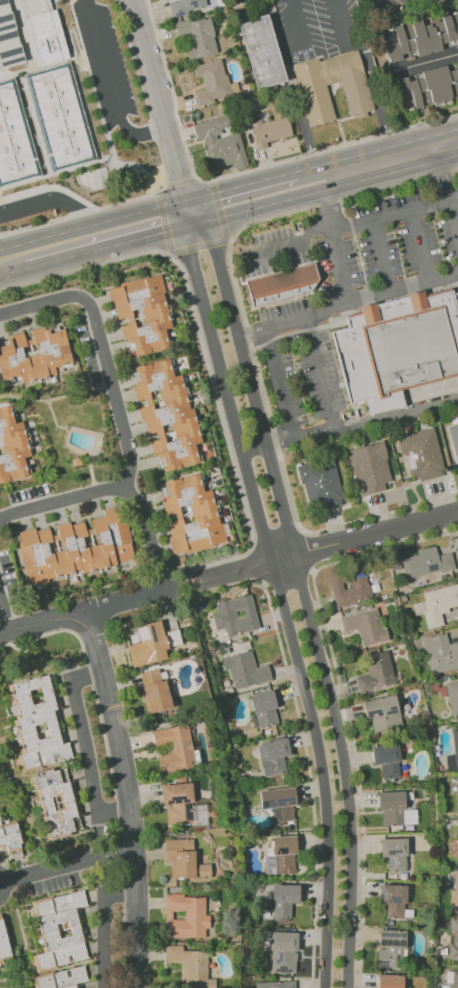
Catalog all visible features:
road: (290, 1)
building: (388, 5)
building: (185, 6)
building: (44, 30)
building: (9, 36)
building: (197, 36)
building: (420, 36)
building: (261, 51)
parking lot: (105, 60)
road: (427, 62)
road: (369, 76)
building: (212, 82)
road: (291, 84)
road: (113, 85)
building: (427, 87)
road: (172, 96)
building: (313, 97)
road: (161, 99)
road: (99, 109)
building: (60, 115)
building: (268, 131)
building: (15, 137)
building: (220, 143)
road: (333, 146)
road: (399, 156)
road: (318, 164)
road: (166, 176)
road: (180, 181)
road: (241, 184)
road: (50, 186)
road: (445, 189)
traffic signals: (188, 198)
road: (340, 198)
road: (49, 200)
road: (279, 201)
road: (122, 216)
traffic signals: (211, 221)
road: (355, 227)
traffic signals: (184, 228)
road: (139, 238)
road: (337, 243)
road: (421, 246)
road: (199, 247)
road: (45, 254)
road: (381, 256)
road: (11, 262)
building: (281, 286)
parking lot: (348, 289)
road: (346, 299)
building: (456, 299)
building: (141, 313)
road: (202, 347)
building: (397, 348)
building: (34, 354)
road: (323, 375)
road: (283, 385)
road: (117, 403)
building: (166, 414)
road: (348, 426)
building: (454, 440)
building: (12, 447)
building: (421, 454)
road: (280, 464)
building: (369, 468)
building: (319, 483)
road: (63, 502)
building: (190, 515)
road: (301, 531)
road: (457, 533)
road: (330, 545)
building: (74, 547)
building: (425, 563)
building: (357, 580)
road: (301, 585)
road: (279, 589)
building: (436, 604)
road: (4, 613)
road: (82, 613)
building: (235, 615)
building: (365, 626)
building: (172, 637)
building: (147, 644)
building: (440, 653)
building: (245, 670)
building: (376, 672)
building: (154, 691)
building: (452, 697)
road: (343, 703)
building: (263, 708)
building: (382, 712)
building: (38, 722)
building: (455, 743)
road: (85, 746)
building: (174, 748)
building: (273, 756)
road: (306, 760)
building: (386, 760)
building: (457, 792)
road: (127, 798)
building: (56, 802)
building: (176, 802)
building: (278, 803)
building: (391, 807)
building: (10, 839)
building: (457, 840)
building: (394, 853)
building: (280, 856)
building: (183, 860)
road: (69, 864)
road: (2, 878)
road: (2, 889)
building: (454, 891)
building: (283, 899)
building: (393, 900)
building: (185, 916)
road: (103, 925)
building: (453, 939)
building: (3, 942)
building: (390, 948)
building: (282, 951)
building: (190, 966)
building: (61, 979)
building: (454, 979)
building: (389, 981)

